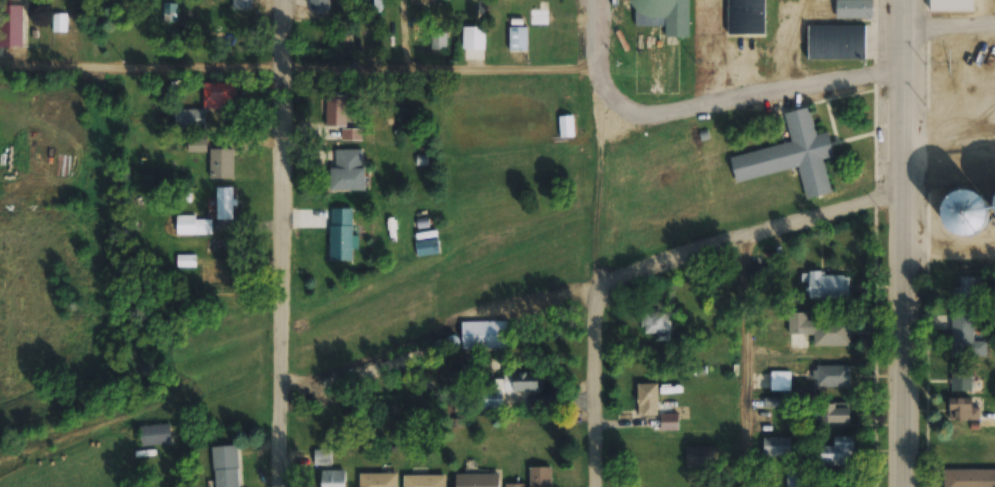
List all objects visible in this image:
building: (952, 4)
building: (320, 5)
building: (853, 9)
building: (169, 13)
building: (662, 16)
building: (538, 17)
building: (746, 18)
building: (59, 22)
building: (11, 25)
building: (517, 39)
building: (836, 42)
building: (472, 43)
building: (437, 44)
road: (755, 90)
building: (205, 106)
building: (336, 111)
building: (565, 127)
building: (791, 156)
building: (221, 163)
building: (346, 172)
building: (994, 197)
building: (224, 204)
building: (966, 211)
building: (187, 224)
building: (341, 234)
road: (756, 239)
road: (288, 243)
road: (605, 243)
road: (906, 243)
building: (185, 260)
building: (827, 285)
building: (968, 287)
building: (656, 323)
building: (820, 330)
building: (483, 335)
building: (965, 337)
building: (831, 376)
building: (961, 379)
building: (779, 381)
building: (518, 382)
building: (646, 399)
building: (490, 403)
building: (962, 409)
building: (830, 413)
building: (668, 422)
building: (154, 435)
building: (776, 446)
building: (838, 453)
building: (700, 457)
building: (321, 458)
building: (226, 466)
building: (540, 476)
building: (332, 478)
building: (968, 478)
building: (377, 480)
building: (476, 480)
building: (793, 480)
building: (424, 481)
building: (513, 485)

